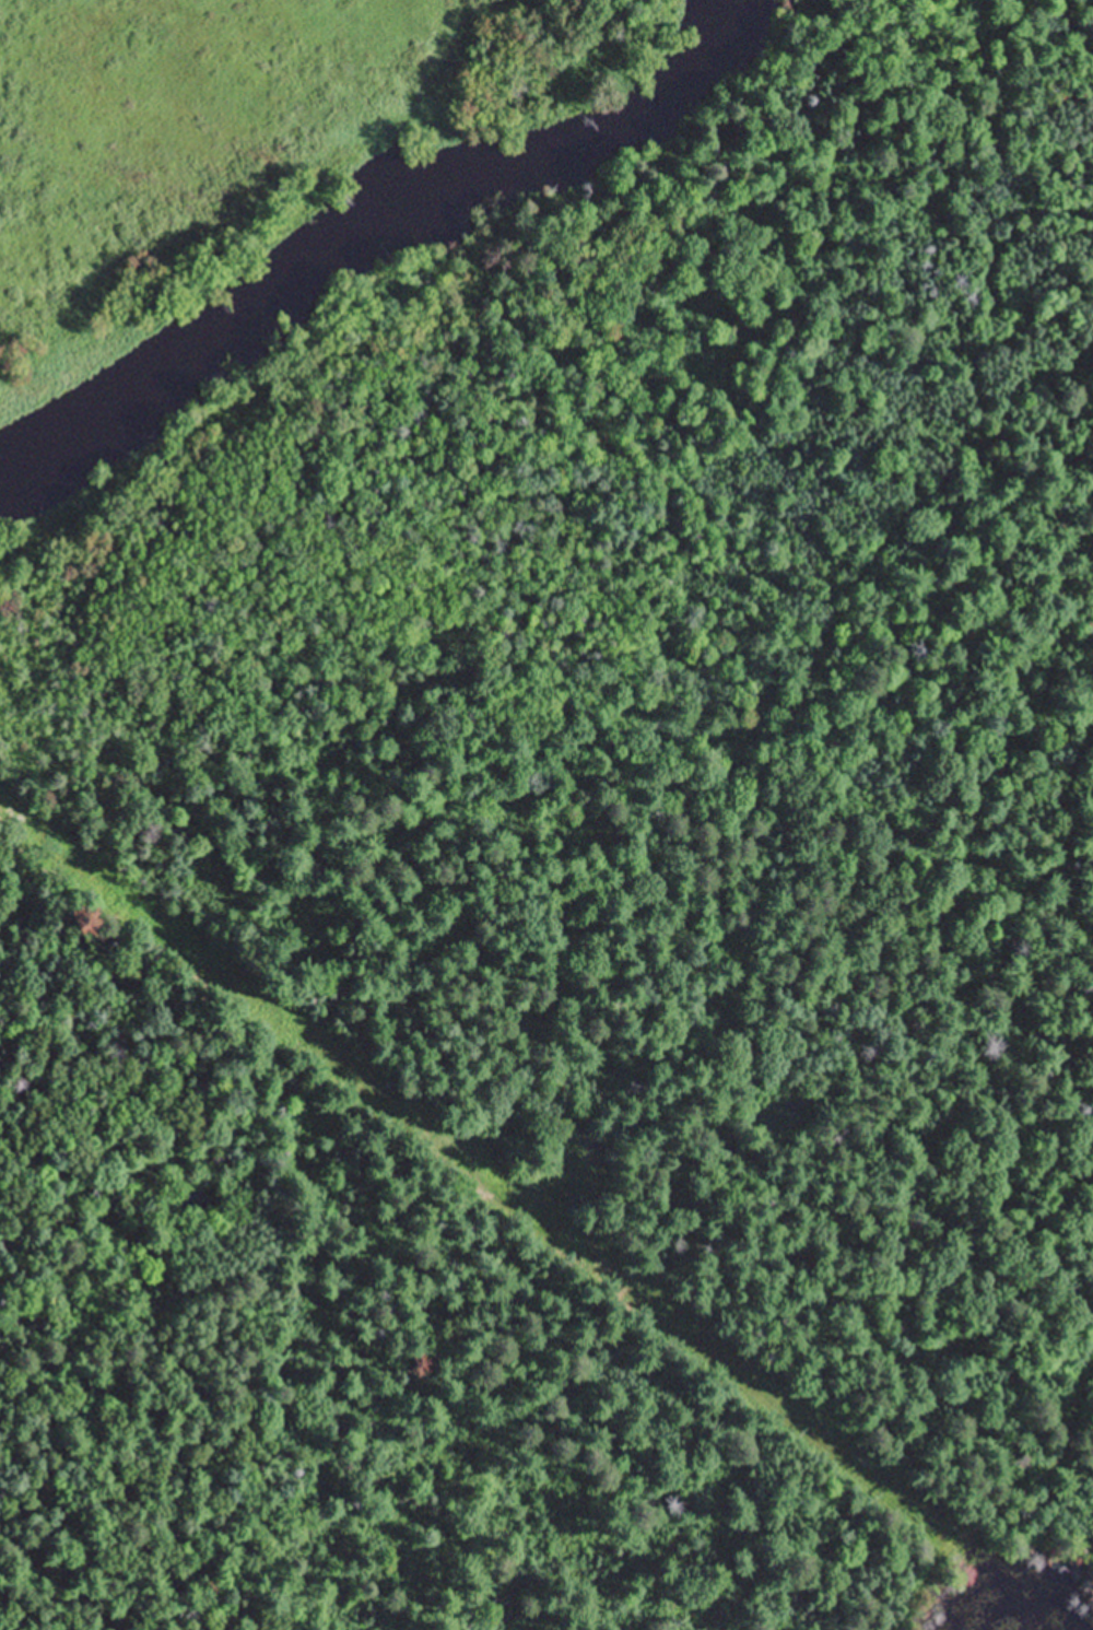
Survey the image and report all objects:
river: (351, 236)

